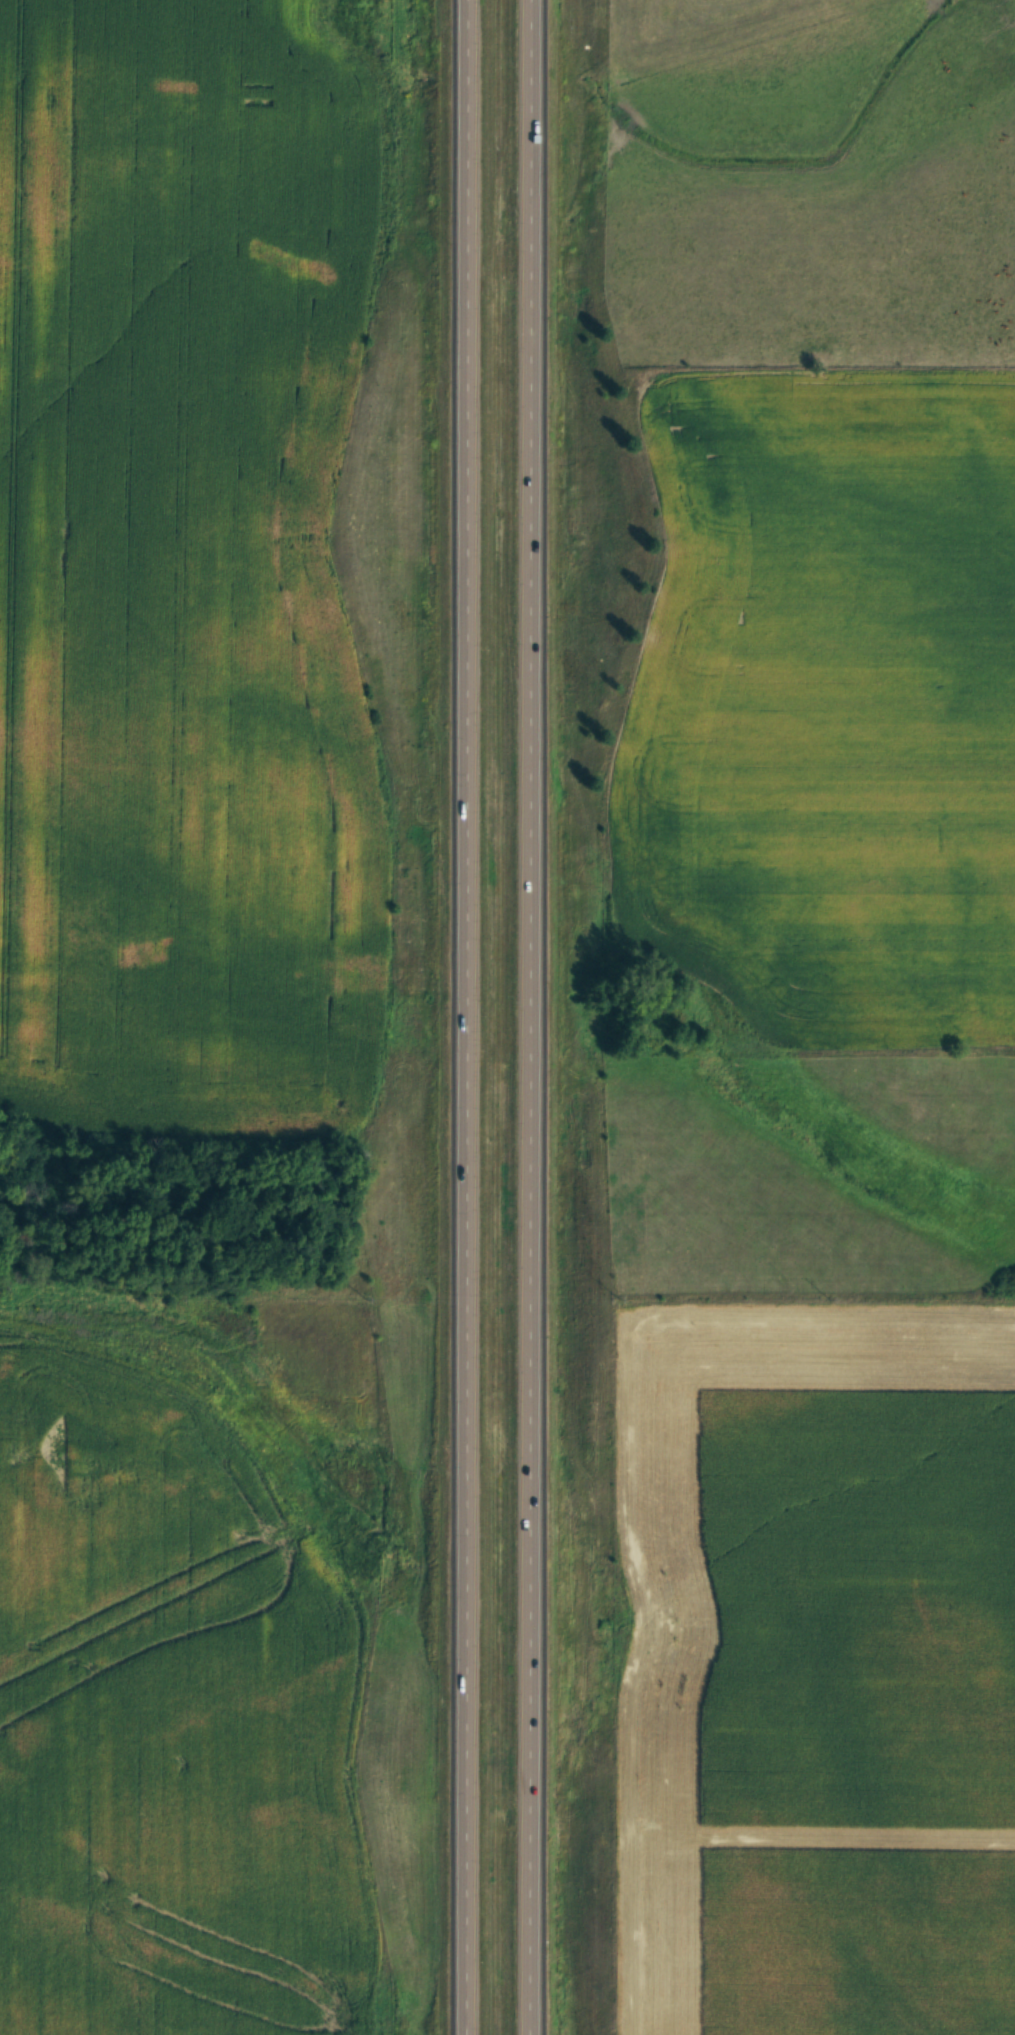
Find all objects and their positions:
road: (461, 1017)
road: (525, 1017)

